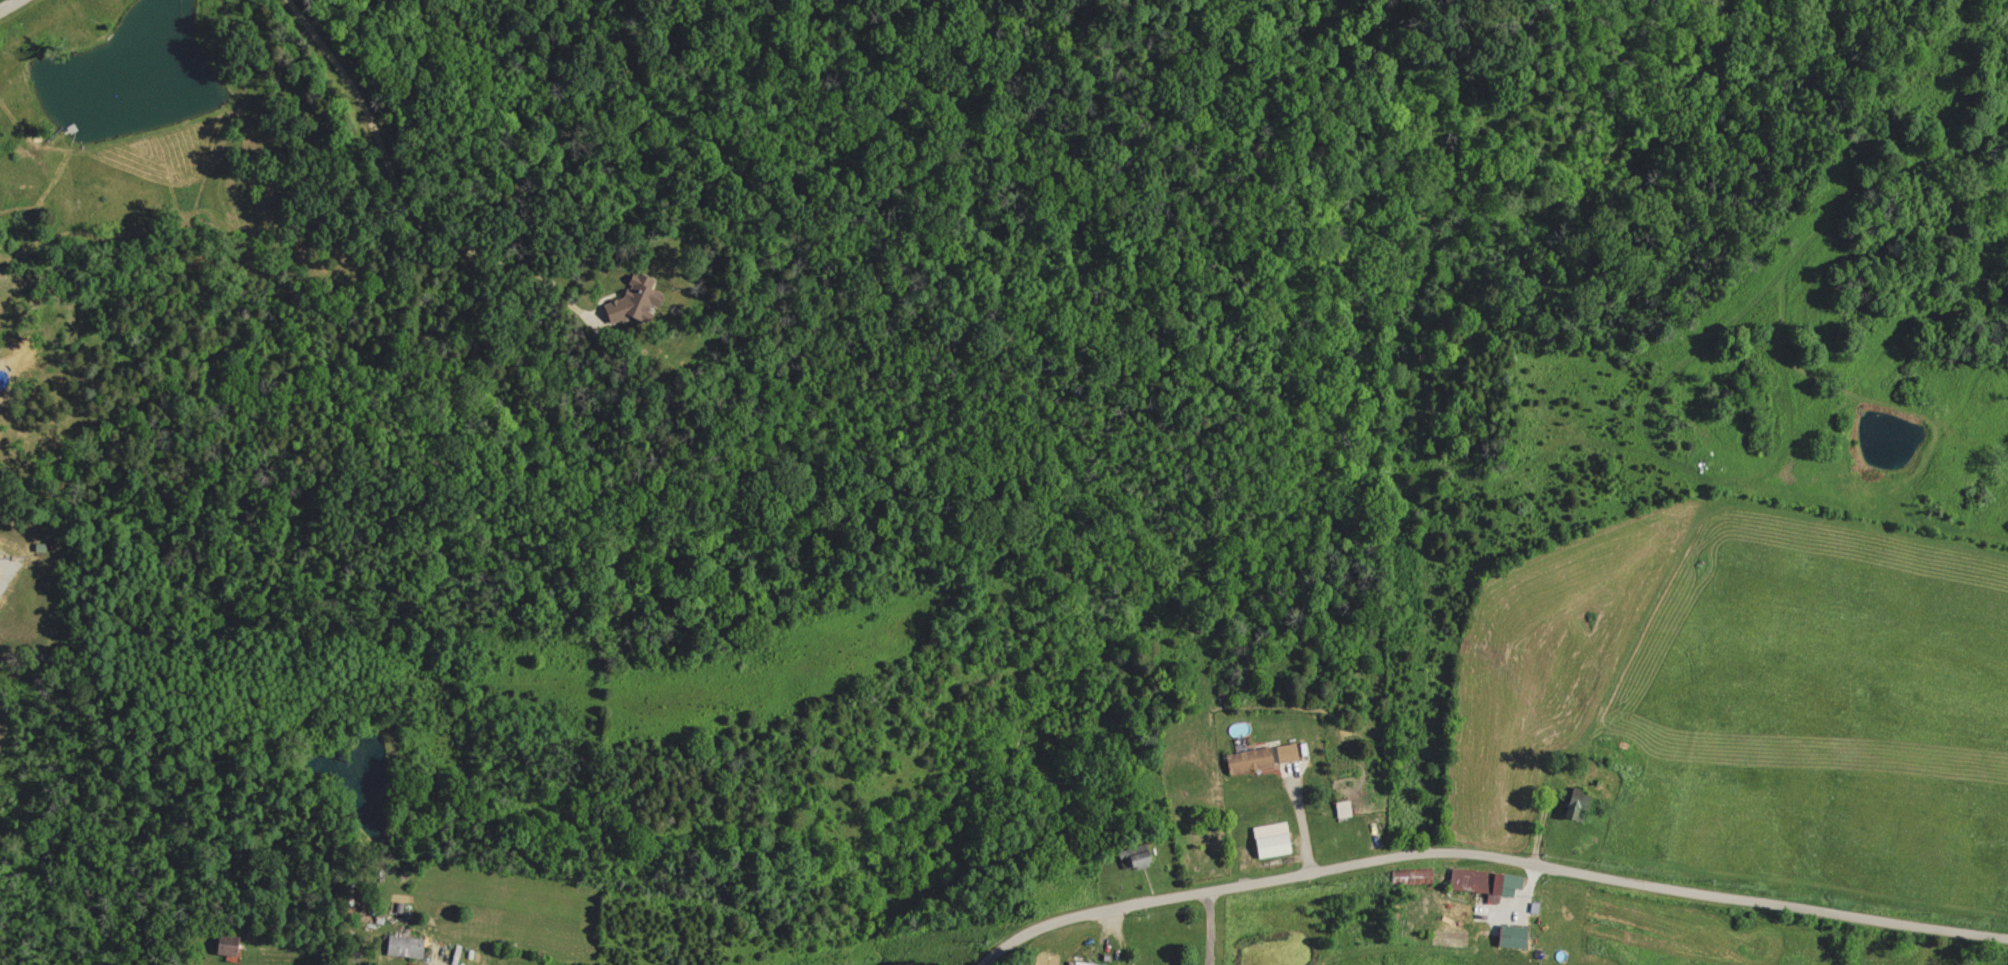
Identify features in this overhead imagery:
road: (9, 5)
building: (629, 302)
building: (1284, 752)
building: (1246, 759)
building: (1572, 806)
road: (1299, 823)
building: (1268, 840)
building: (1135, 856)
road: (1487, 861)
building: (1409, 876)
building: (1481, 881)
road: (1210, 927)
building: (1508, 936)
building: (408, 946)
building: (1080, 963)
road: (436, 964)

